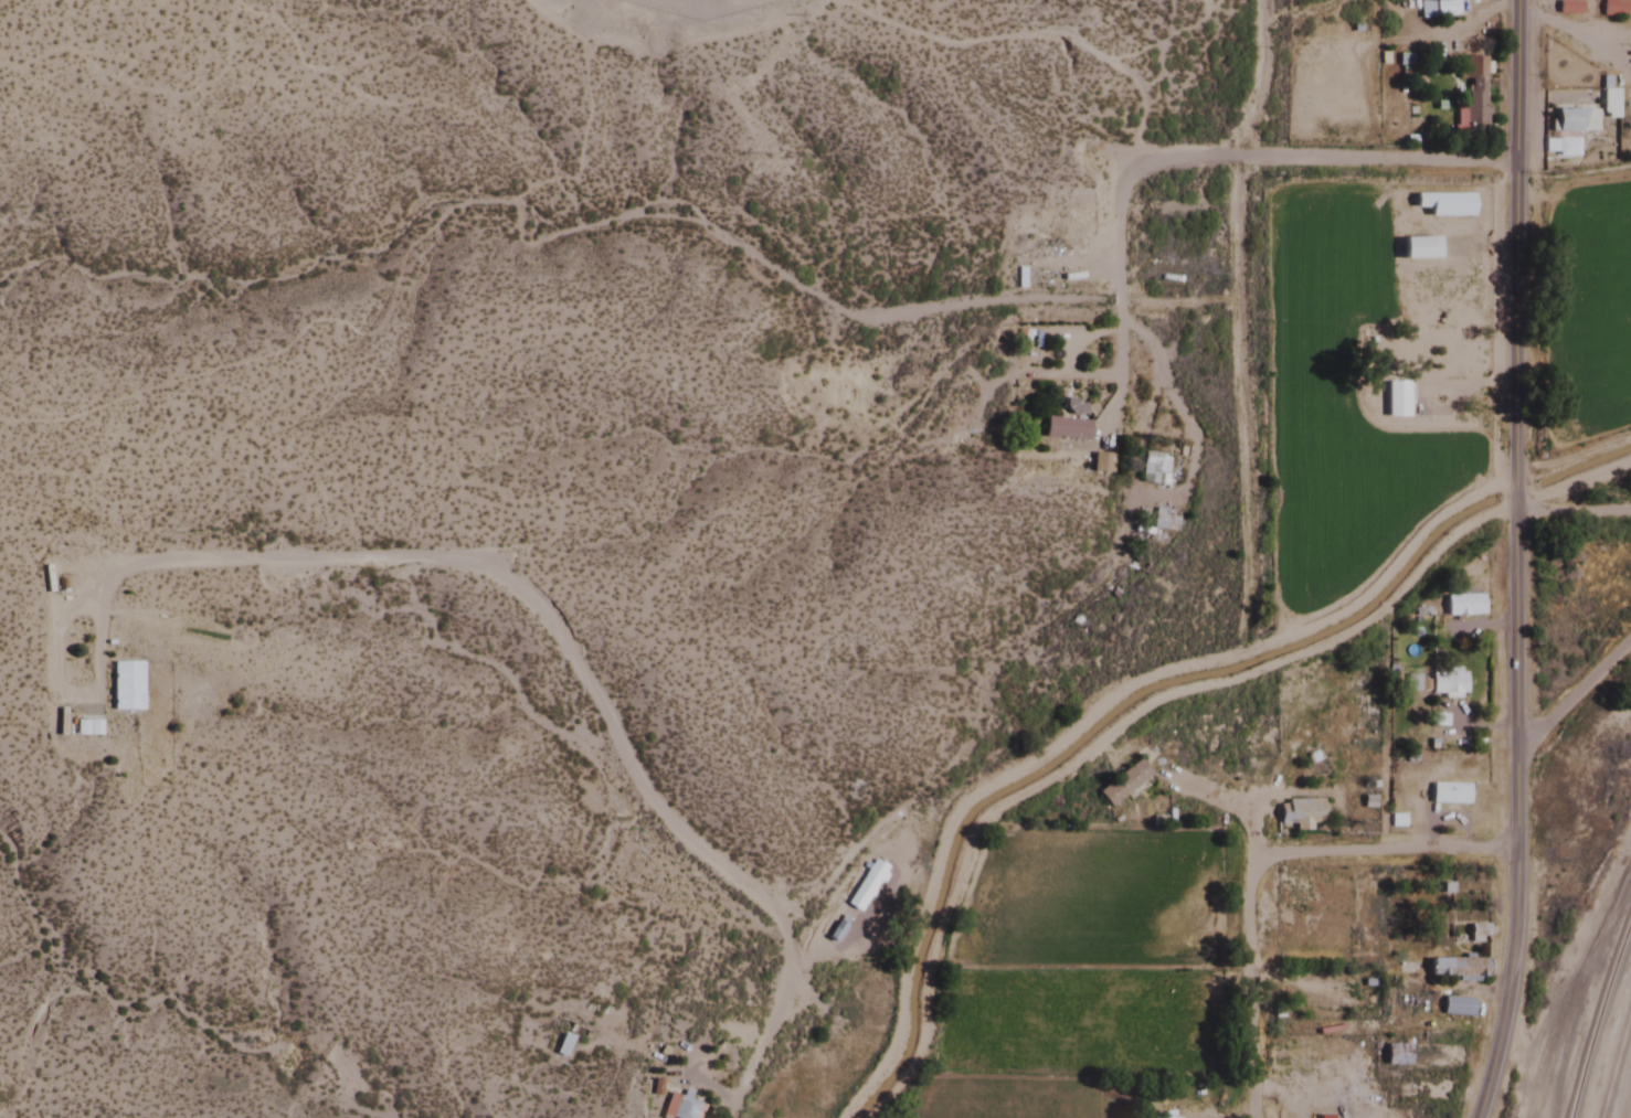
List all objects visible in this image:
building: (1443, 8)
building: (1472, 97)
building: (1607, 103)
building: (1567, 119)
road: (1302, 162)
building: (1441, 205)
building: (1417, 248)
road: (1116, 291)
building: (1459, 358)
building: (1397, 400)
road: (1506, 422)
building: (1065, 429)
building: (1099, 464)
building: (1153, 469)
road: (1567, 513)
building: (1163, 520)
building: (1462, 606)
building: (1445, 683)
building: (125, 686)
road: (1568, 695)
building: (86, 727)
building: (1122, 784)
building: (1448, 795)
building: (1301, 816)
road: (1381, 849)
building: (865, 886)
building: (825, 928)
building: (1475, 934)
road: (1256, 952)
building: (1455, 968)
road: (1507, 982)
building: (1317, 999)
building: (1455, 1007)
railway: (1597, 1013)
railway: (1558, 1022)
building: (562, 1045)
railway: (1614, 1062)
building: (679, 1107)

